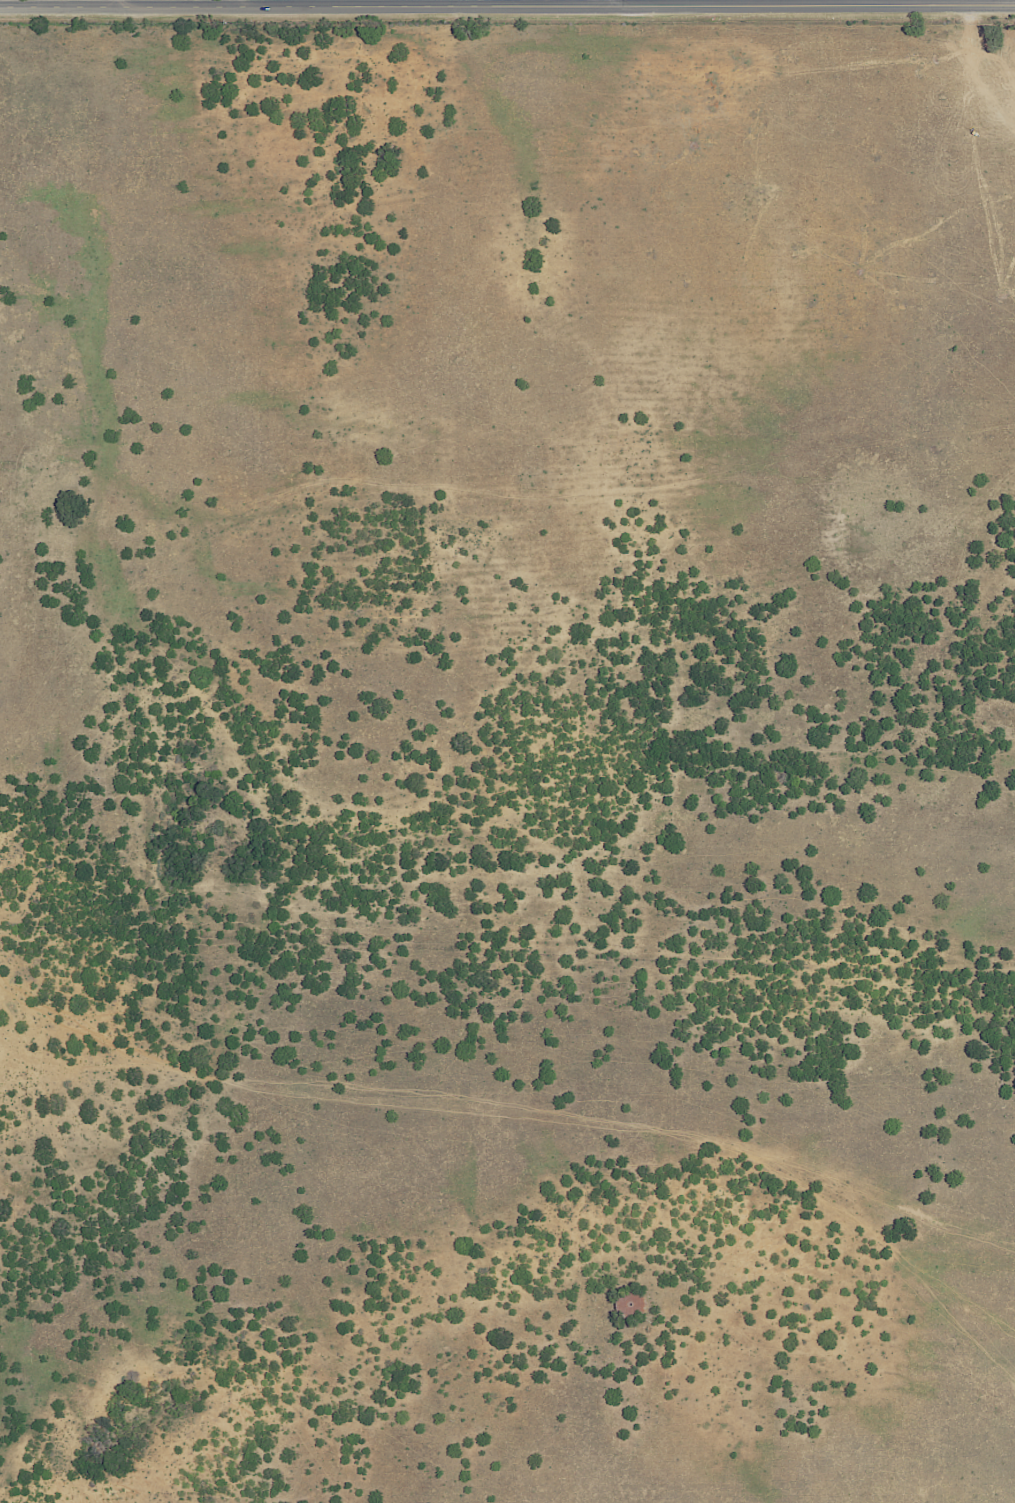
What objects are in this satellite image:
road: (236, 4)
road: (611, 4)
road: (507, 8)
road: (501, 1382)

